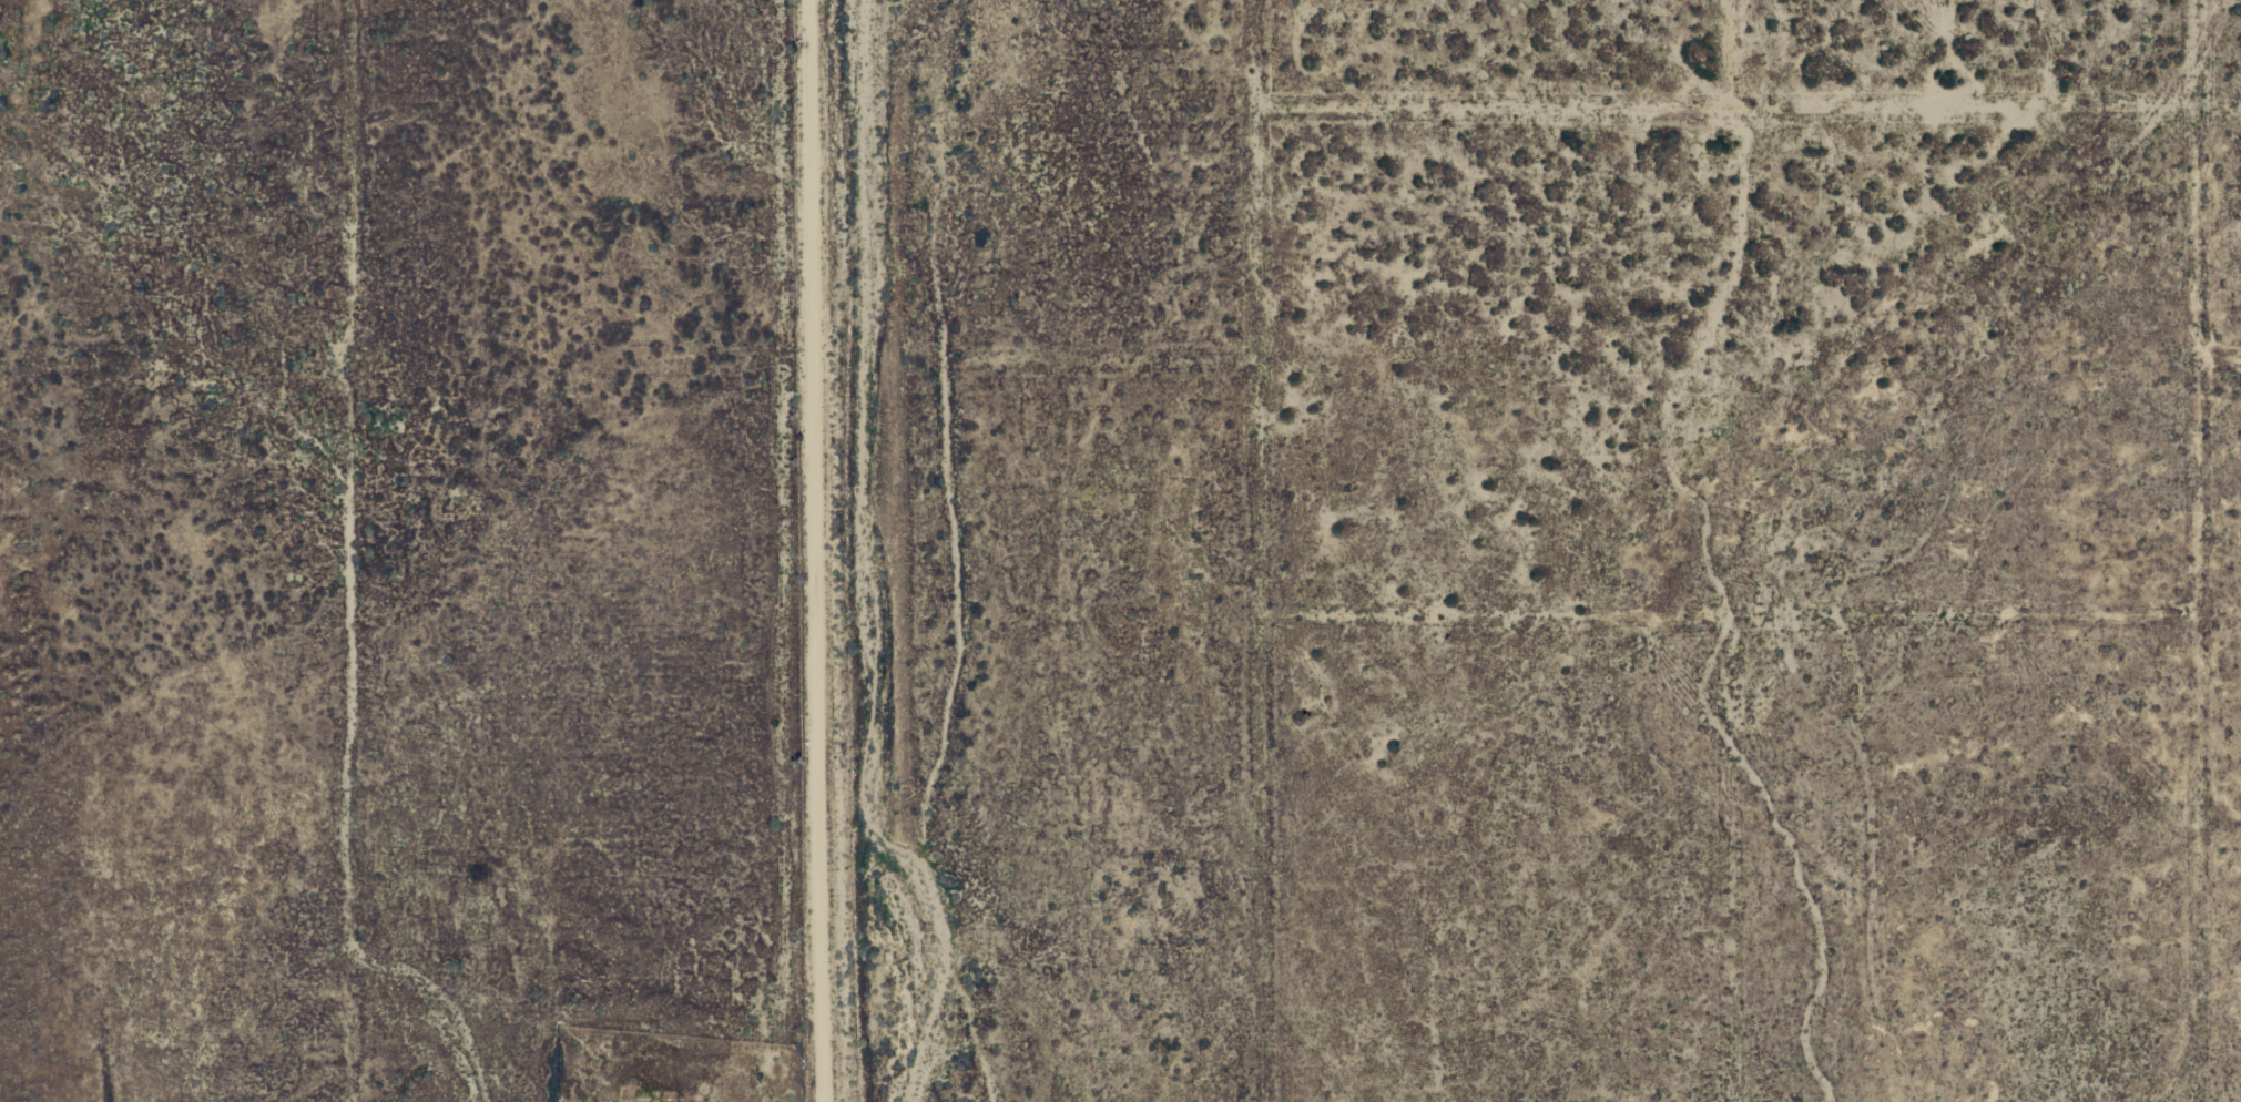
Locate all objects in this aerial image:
road: (813, 550)

